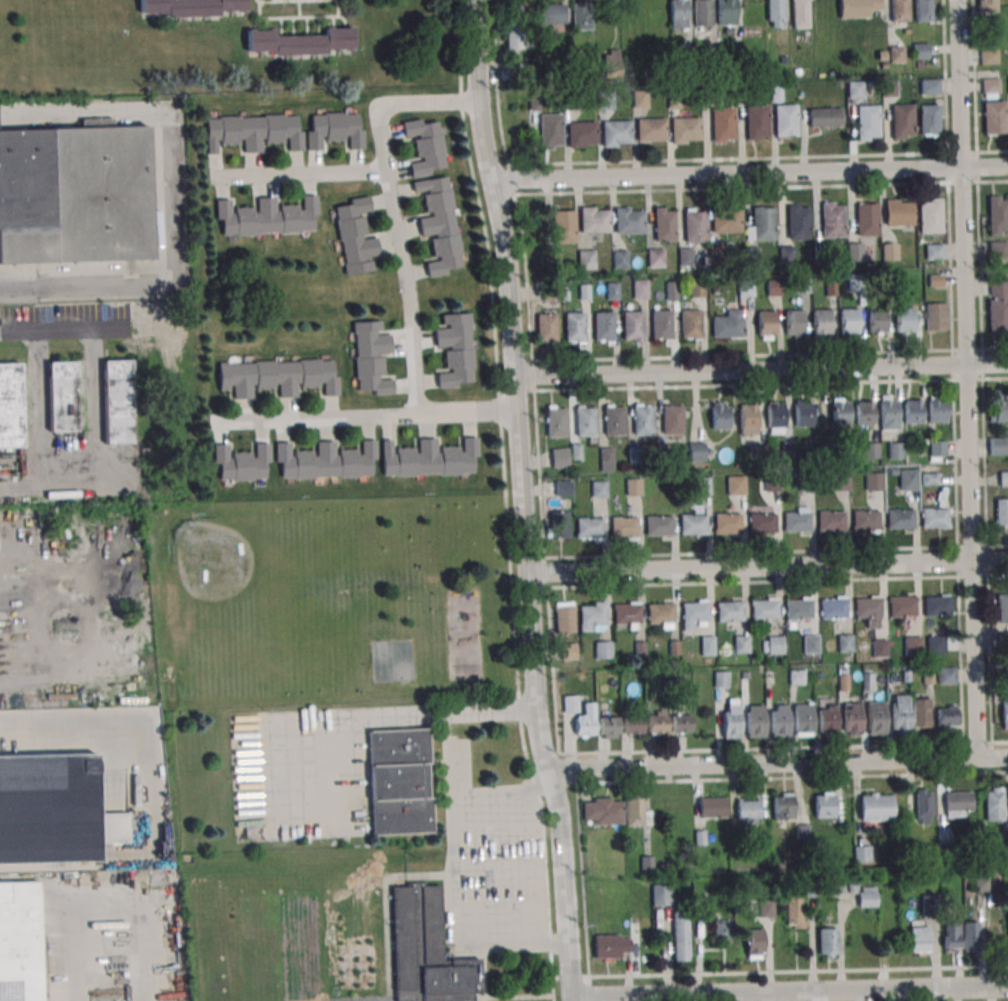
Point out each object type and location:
building: (986, 5)
building: (190, 7)
building: (857, 8)
building: (900, 10)
building: (924, 10)
building: (726, 12)
building: (775, 12)
building: (551, 13)
building: (703, 13)
building: (679, 14)
building: (800, 14)
building: (582, 15)
building: (514, 21)
building: (300, 42)
building: (920, 51)
building: (896, 54)
building: (614, 56)
building: (989, 56)
building: (930, 86)
building: (990, 87)
building: (856, 89)
building: (994, 117)
building: (825, 118)
building: (929, 119)
building: (785, 122)
building: (902, 122)
building: (757, 123)
building: (868, 123)
building: (722, 125)
building: (335, 129)
building: (651, 130)
building: (551, 131)
building: (685, 131)
building: (254, 132)
building: (616, 133)
building: (581, 135)
building: (426, 146)
road: (750, 172)
road: (299, 175)
building: (73, 195)
road: (173, 201)
road: (390, 209)
building: (898, 213)
building: (930, 215)
building: (998, 215)
building: (269, 217)
building: (867, 219)
building: (594, 221)
building: (725, 221)
building: (832, 221)
building: (628, 222)
building: (798, 223)
building: (440, 224)
building: (764, 224)
building: (695, 225)
building: (564, 226)
building: (664, 226)
building: (355, 236)
building: (997, 249)
building: (890, 251)
building: (933, 252)
building: (854, 253)
building: (716, 254)
building: (785, 255)
building: (751, 256)
building: (684, 257)
building: (653, 258)
building: (620, 259)
building: (549, 260)
building: (585, 260)
building: (885, 282)
building: (856, 283)
building: (773, 288)
building: (697, 289)
building: (745, 289)
building: (613, 290)
building: (640, 290)
building: (671, 291)
building: (998, 305)
building: (937, 318)
building: (876, 321)
building: (904, 321)
building: (849, 322)
building: (766, 323)
building: (794, 323)
building: (821, 323)
building: (661, 325)
building: (690, 325)
building: (632, 326)
building: (728, 326)
building: (574, 327)
building: (603, 327)
building: (546, 328)
road: (94, 334)
building: (455, 349)
building: (371, 358)
road: (761, 370)
building: (277, 377)
road: (967, 378)
road: (982, 378)
road: (40, 382)
building: (62, 397)
building: (118, 403)
building: (10, 406)
building: (1001, 411)
building: (937, 412)
building: (864, 413)
building: (912, 413)
road: (366, 414)
building: (720, 415)
building: (803, 415)
building: (841, 415)
building: (888, 416)
building: (775, 417)
building: (643, 419)
building: (672, 419)
building: (748, 419)
building: (614, 420)
building: (557, 423)
building: (585, 423)
building: (997, 446)
building: (937, 447)
building: (871, 450)
building: (896, 450)
building: (696, 451)
building: (560, 457)
building: (430, 458)
building: (607, 459)
building: (325, 460)
building: (241, 463)
building: (930, 478)
building: (1003, 478)
building: (909, 479)
building: (838, 481)
building: (874, 481)
building: (735, 484)
building: (563, 487)
building: (599, 487)
building: (633, 487)
road: (522, 498)
building: (1001, 512)
building: (900, 520)
building: (935, 520)
building: (865, 521)
building: (831, 522)
building: (796, 523)
building: (559, 524)
building: (762, 524)
building: (727, 525)
building: (658, 526)
building: (693, 526)
building: (624, 528)
building: (589, 529)
road: (776, 552)
road: (767, 566)
road: (762, 581)
park: (329, 603)
building: (902, 608)
building: (937, 608)
building: (868, 609)
building: (1002, 609)
building: (833, 610)
building: (764, 611)
building: (799, 611)
building: (729, 612)
building: (695, 613)
building: (626, 614)
building: (660, 614)
building: (594, 615)
building: (566, 617)
building: (845, 644)
building: (741, 645)
building: (810, 645)
building: (707, 646)
building: (775, 646)
building: (936, 646)
building: (912, 647)
building: (879, 649)
building: (603, 650)
building: (569, 651)
building: (946, 677)
building: (721, 679)
building: (571, 704)
building: (1005, 711)
road: (418, 714)
building: (921, 715)
building: (946, 716)
building: (875, 720)
building: (899, 720)
building: (585, 721)
building: (657, 722)
building: (803, 722)
building: (681, 723)
building: (779, 723)
building: (851, 723)
building: (826, 724)
building: (633, 725)
building: (754, 725)
building: (609, 726)
building: (730, 726)
road: (778, 766)
building: (399, 781)
building: (994, 803)
building: (957, 804)
building: (783, 805)
building: (824, 805)
building: (876, 806)
building: (922, 806)
building: (712, 807)
building: (55, 808)
building: (748, 810)
building: (615, 812)
building: (1004, 830)
building: (862, 852)
road: (450, 878)
building: (981, 884)
building: (836, 887)
building: (661, 895)
building: (867, 896)
building: (766, 906)
building: (795, 912)
building: (723, 929)
building: (951, 935)
building: (971, 936)
building: (681, 937)
building: (919, 939)
building: (19, 942)
building: (827, 942)
building: (755, 943)
building: (612, 946)
building: (427, 951)
road: (789, 991)
road: (571, 999)

